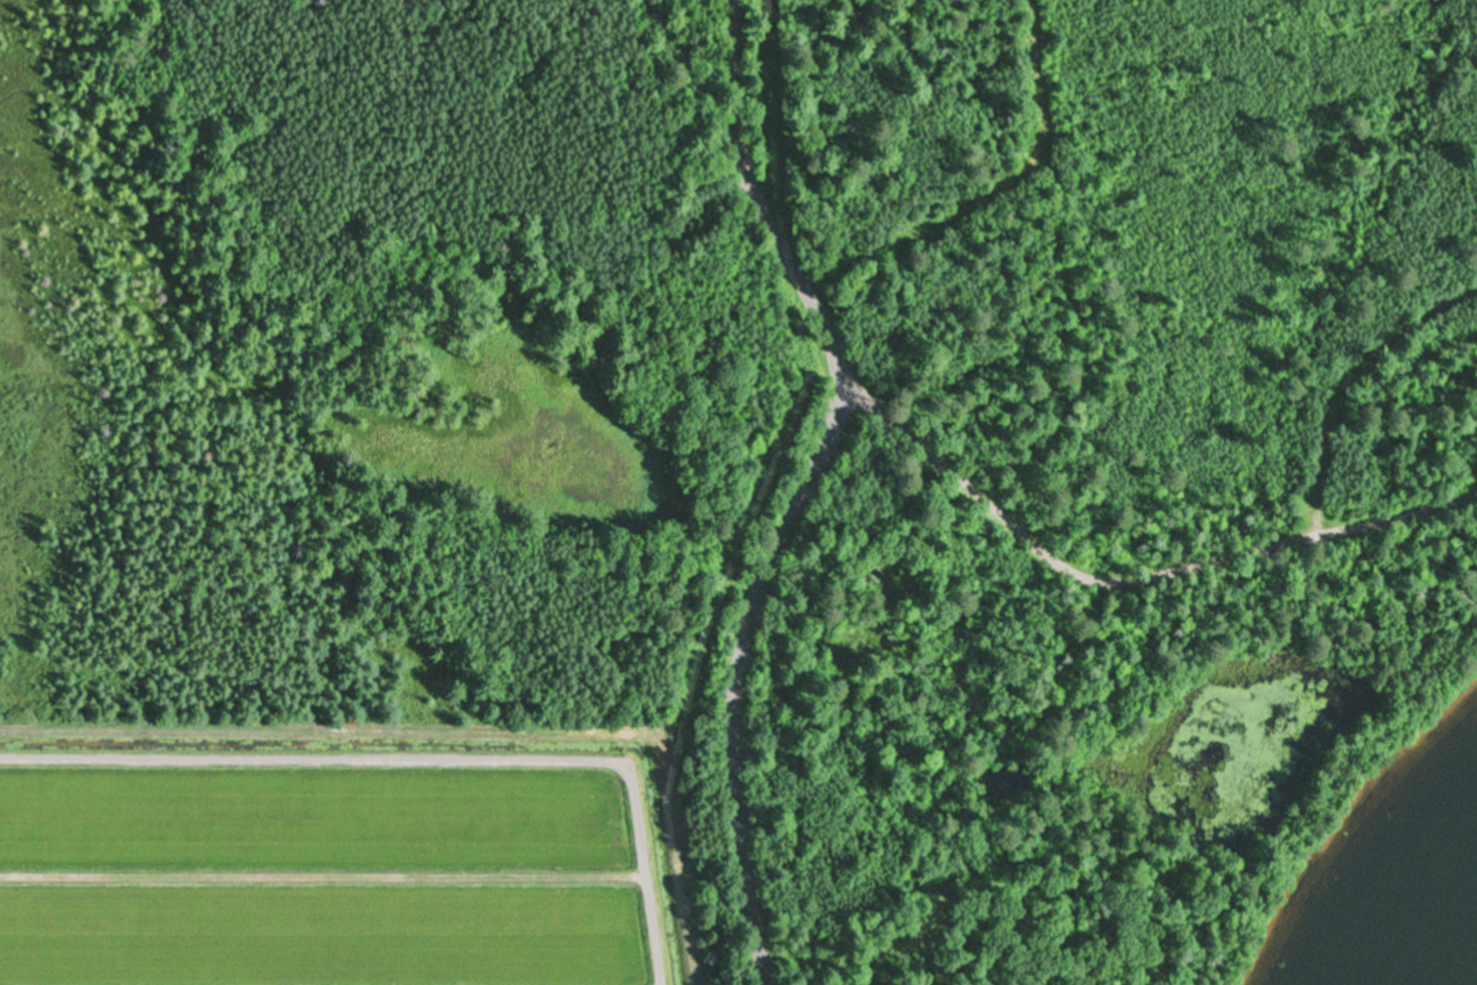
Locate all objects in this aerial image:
road: (798, 485)
road: (1130, 573)
crop: (344, 853)

